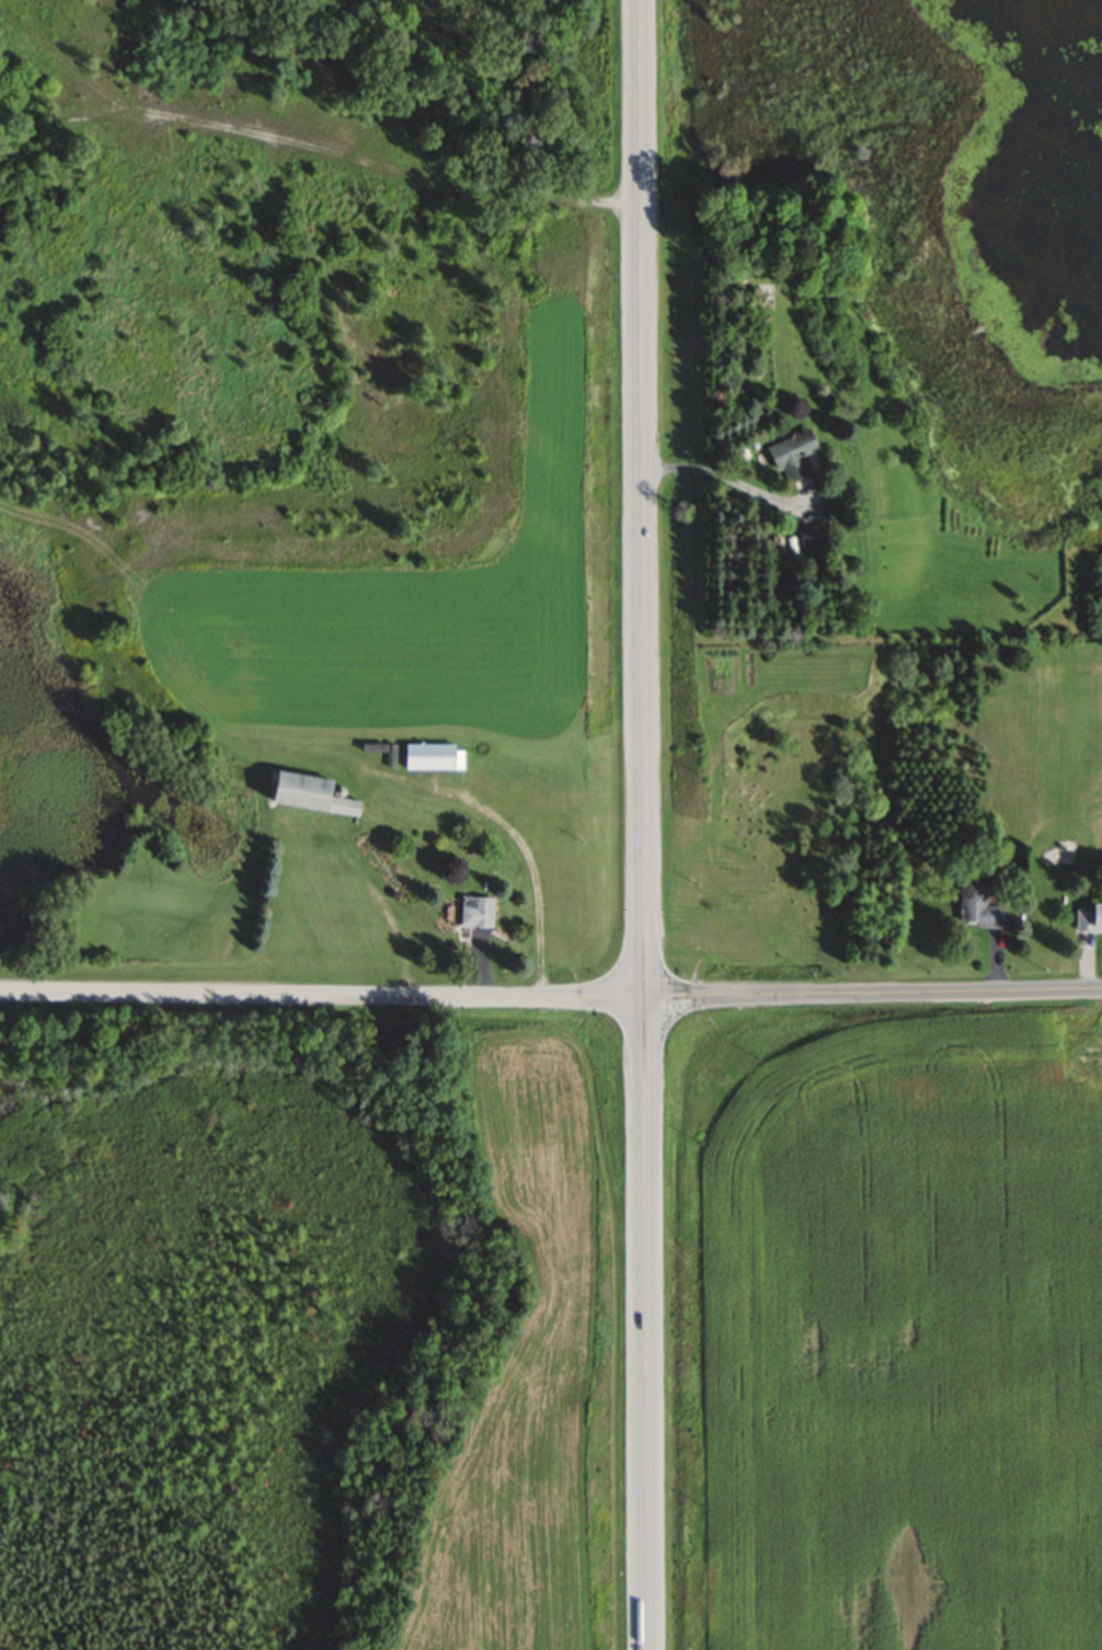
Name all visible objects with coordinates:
building: (793, 455)
building: (811, 537)
building: (432, 757)
building: (308, 794)
road: (640, 824)
building: (977, 906)
building: (474, 912)
building: (1088, 917)
road: (551, 996)

